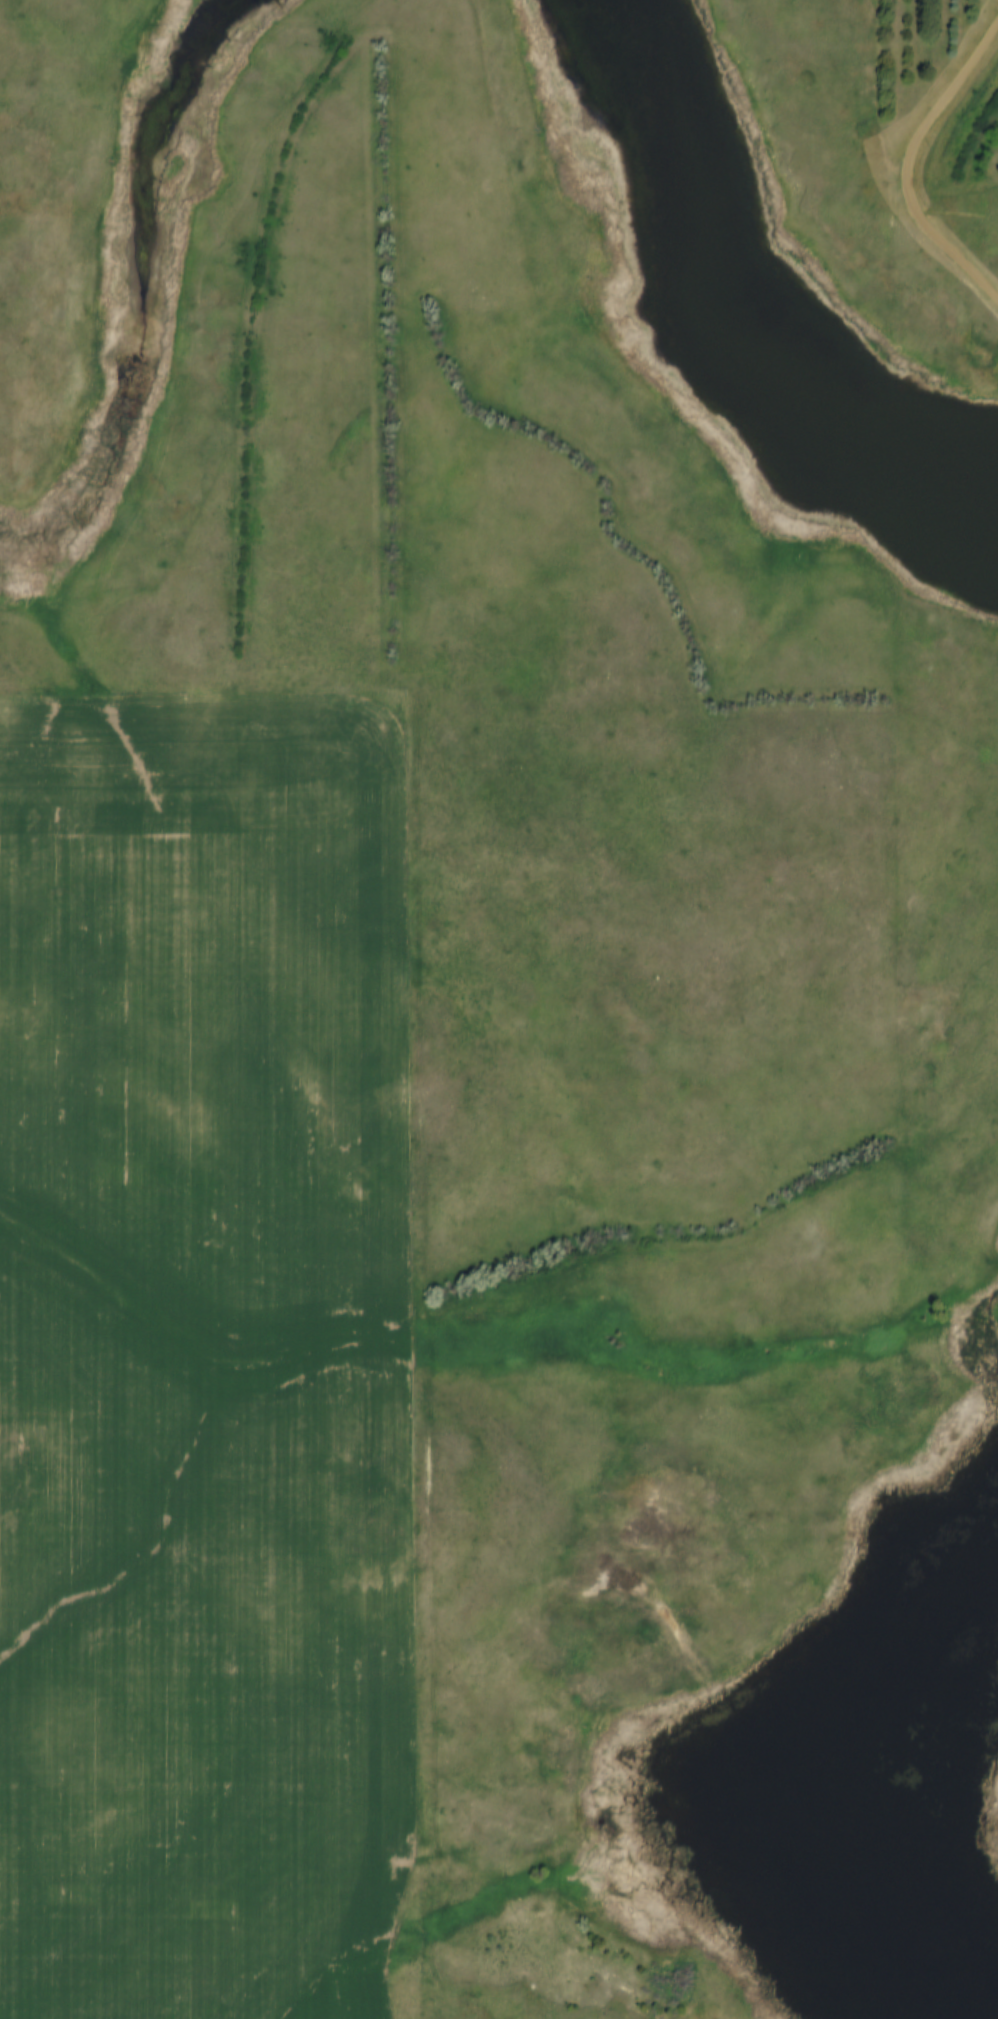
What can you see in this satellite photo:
road: (907, 166)
road: (958, 1191)

